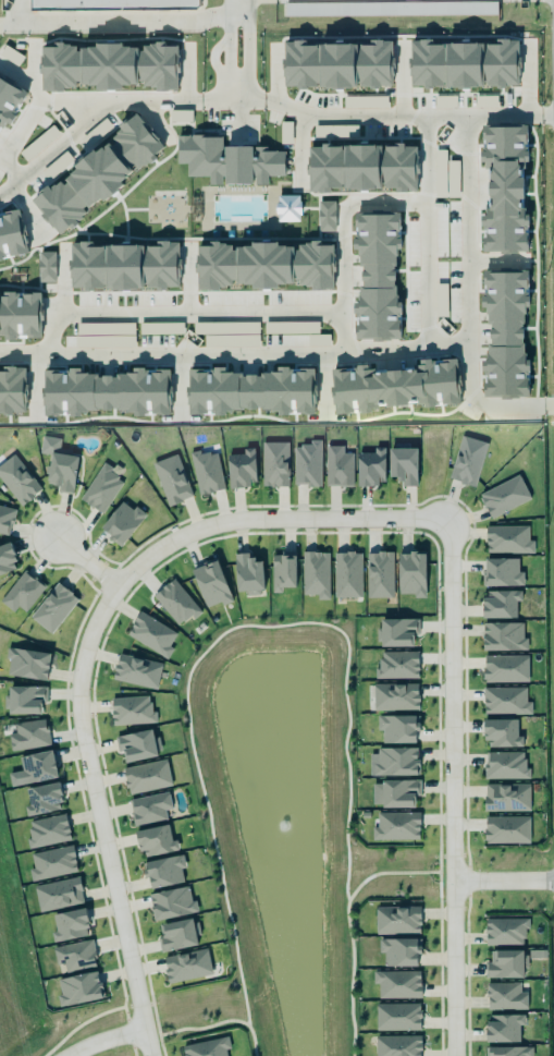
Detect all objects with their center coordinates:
building: (115, 3)
building: (390, 9)
road: (229, 11)
road: (247, 11)
road: (4, 24)
road: (115, 24)
building: (108, 61)
building: (464, 64)
building: (337, 65)
road: (236, 83)
road: (104, 98)
building: (9, 100)
building: (366, 101)
road: (237, 111)
building: (181, 116)
road: (362, 116)
building: (96, 132)
building: (335, 132)
building: (285, 133)
building: (38, 143)
road: (54, 149)
building: (227, 161)
road: (11, 168)
building: (362, 168)
building: (98, 174)
building: (505, 189)
road: (466, 206)
building: (288, 208)
building: (327, 216)
road: (345, 219)
building: (11, 235)
building: (124, 265)
building: (264, 266)
building: (46, 267)
building: (378, 277)
road: (201, 312)
building: (505, 335)
road: (296, 352)
building: (394, 386)
building: (12, 391)
building: (249, 391)
building: (106, 392)
road: (483, 404)
building: (467, 461)
building: (273, 463)
building: (306, 463)
building: (402, 464)
building: (59, 465)
building: (336, 465)
building: (369, 465)
building: (239, 466)
building: (205, 470)
building: (170, 478)
building: (17, 481)
building: (101, 487)
building: (504, 496)
building: (5, 518)
road: (273, 519)
building: (121, 521)
building: (508, 539)
building: (5, 556)
road: (86, 561)
building: (282, 570)
building: (313, 572)
building: (345, 572)
building: (378, 572)
building: (410, 572)
building: (502, 572)
building: (247, 573)
building: (210, 583)
building: (22, 593)
building: (175, 600)
building: (501, 604)
building: (52, 606)
building: (396, 630)
building: (150, 633)
building: (502, 634)
building: (26, 661)
building: (397, 665)
building: (504, 667)
building: (137, 671)
building: (393, 695)
building: (23, 697)
building: (504, 700)
building: (130, 708)
building: (396, 726)
building: (27, 733)
building: (502, 733)
building: (136, 745)
building: (395, 760)
building: (504, 764)
building: (36, 766)
building: (145, 775)
road: (452, 787)
building: (395, 793)
building: (505, 796)
building: (41, 797)
building: (148, 806)
road: (99, 817)
building: (394, 827)
building: (505, 827)
building: (47, 829)
building: (156, 841)
building: (51, 862)
building: (163, 870)
road: (503, 879)
building: (58, 895)
building: (170, 901)
building: (396, 918)
building: (70, 925)
building: (504, 930)
building: (176, 932)
building: (399, 951)
building: (74, 955)
building: (186, 964)
building: (506, 964)
building: (397, 984)
building: (78, 987)
building: (505, 996)
building: (396, 1015)
building: (503, 1025)
road: (103, 1039)
building: (396, 1044)
building: (207, 1047)
building: (507, 1051)

